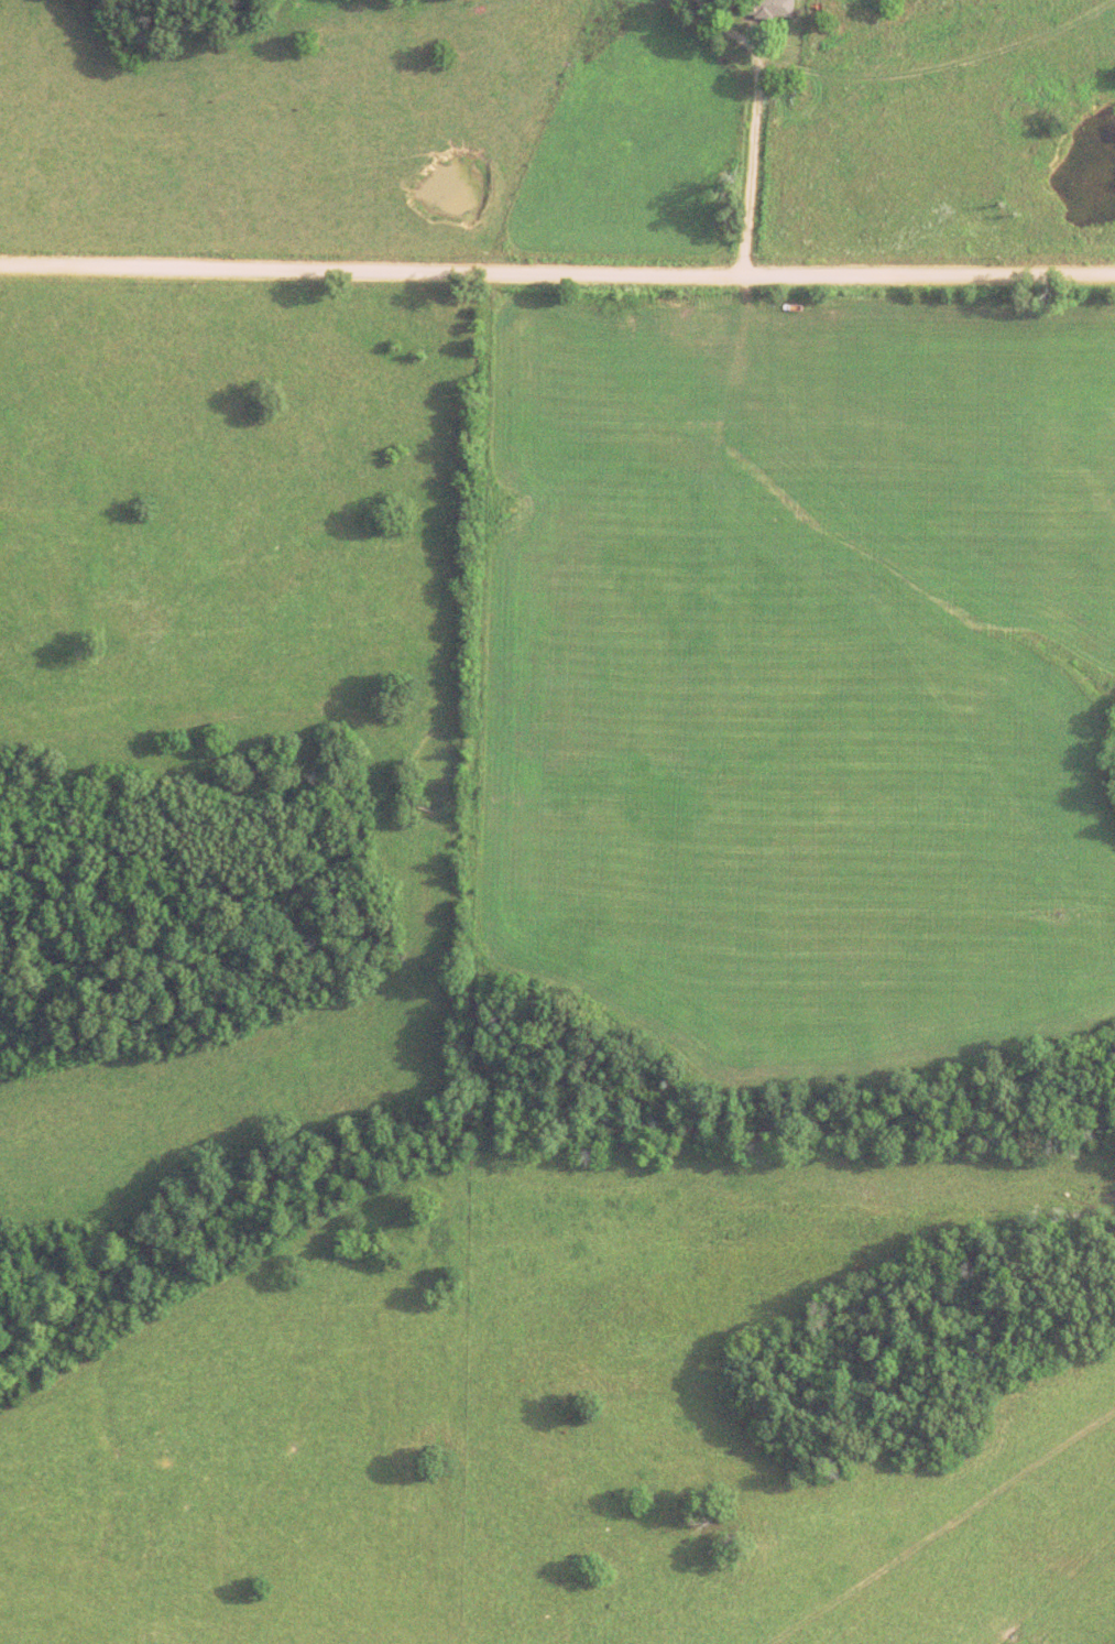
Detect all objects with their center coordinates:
building: (772, 9)
road: (557, 274)

